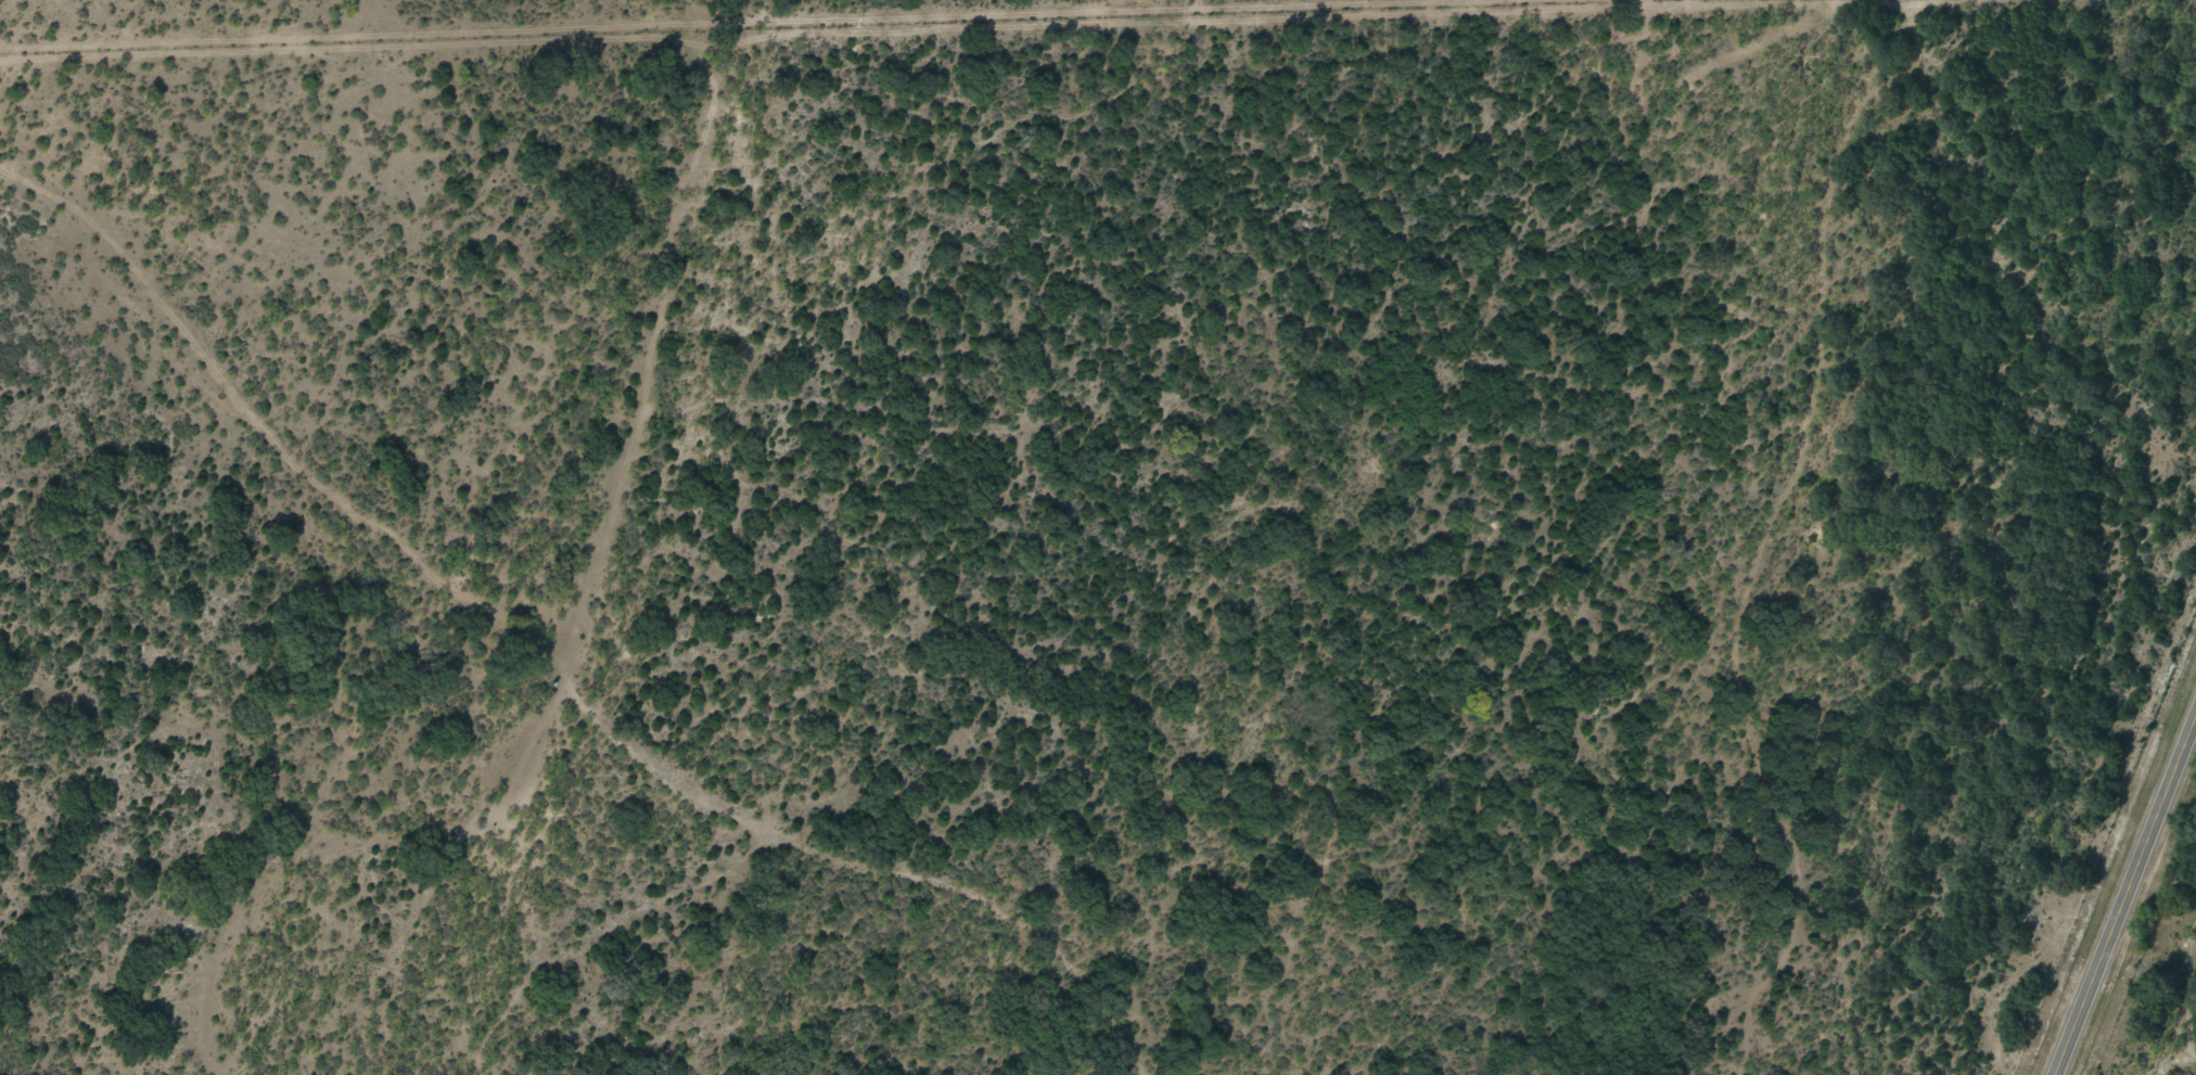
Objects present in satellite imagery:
road: (559, 664)
road: (2127, 899)

